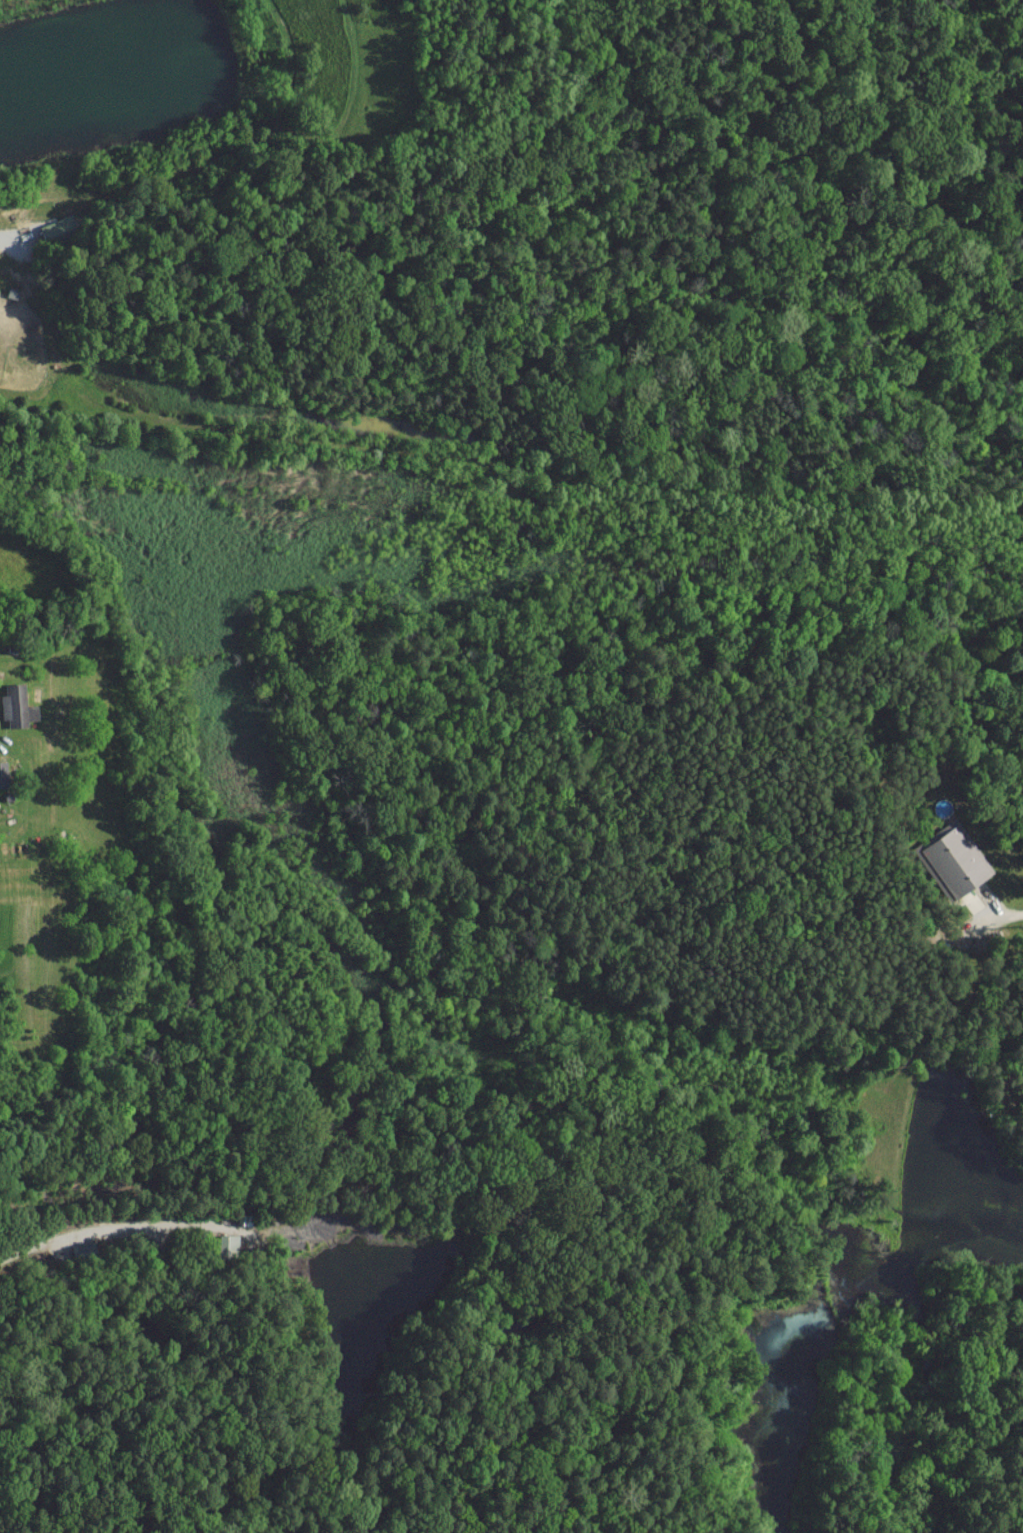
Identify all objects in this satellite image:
building: (57, 229)
road: (6, 238)
building: (17, 706)
building: (956, 861)
road: (1007, 913)

